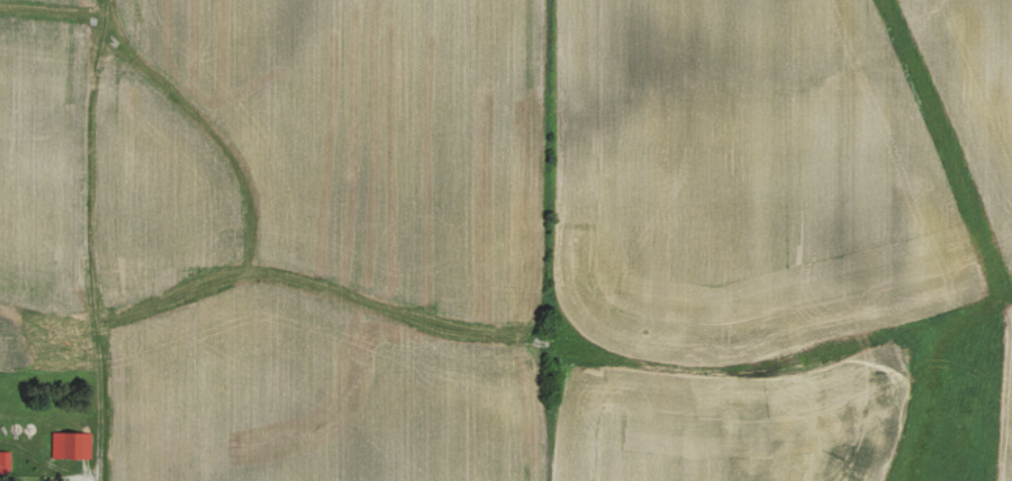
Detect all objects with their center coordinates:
building: (73, 445)
building: (6, 461)

